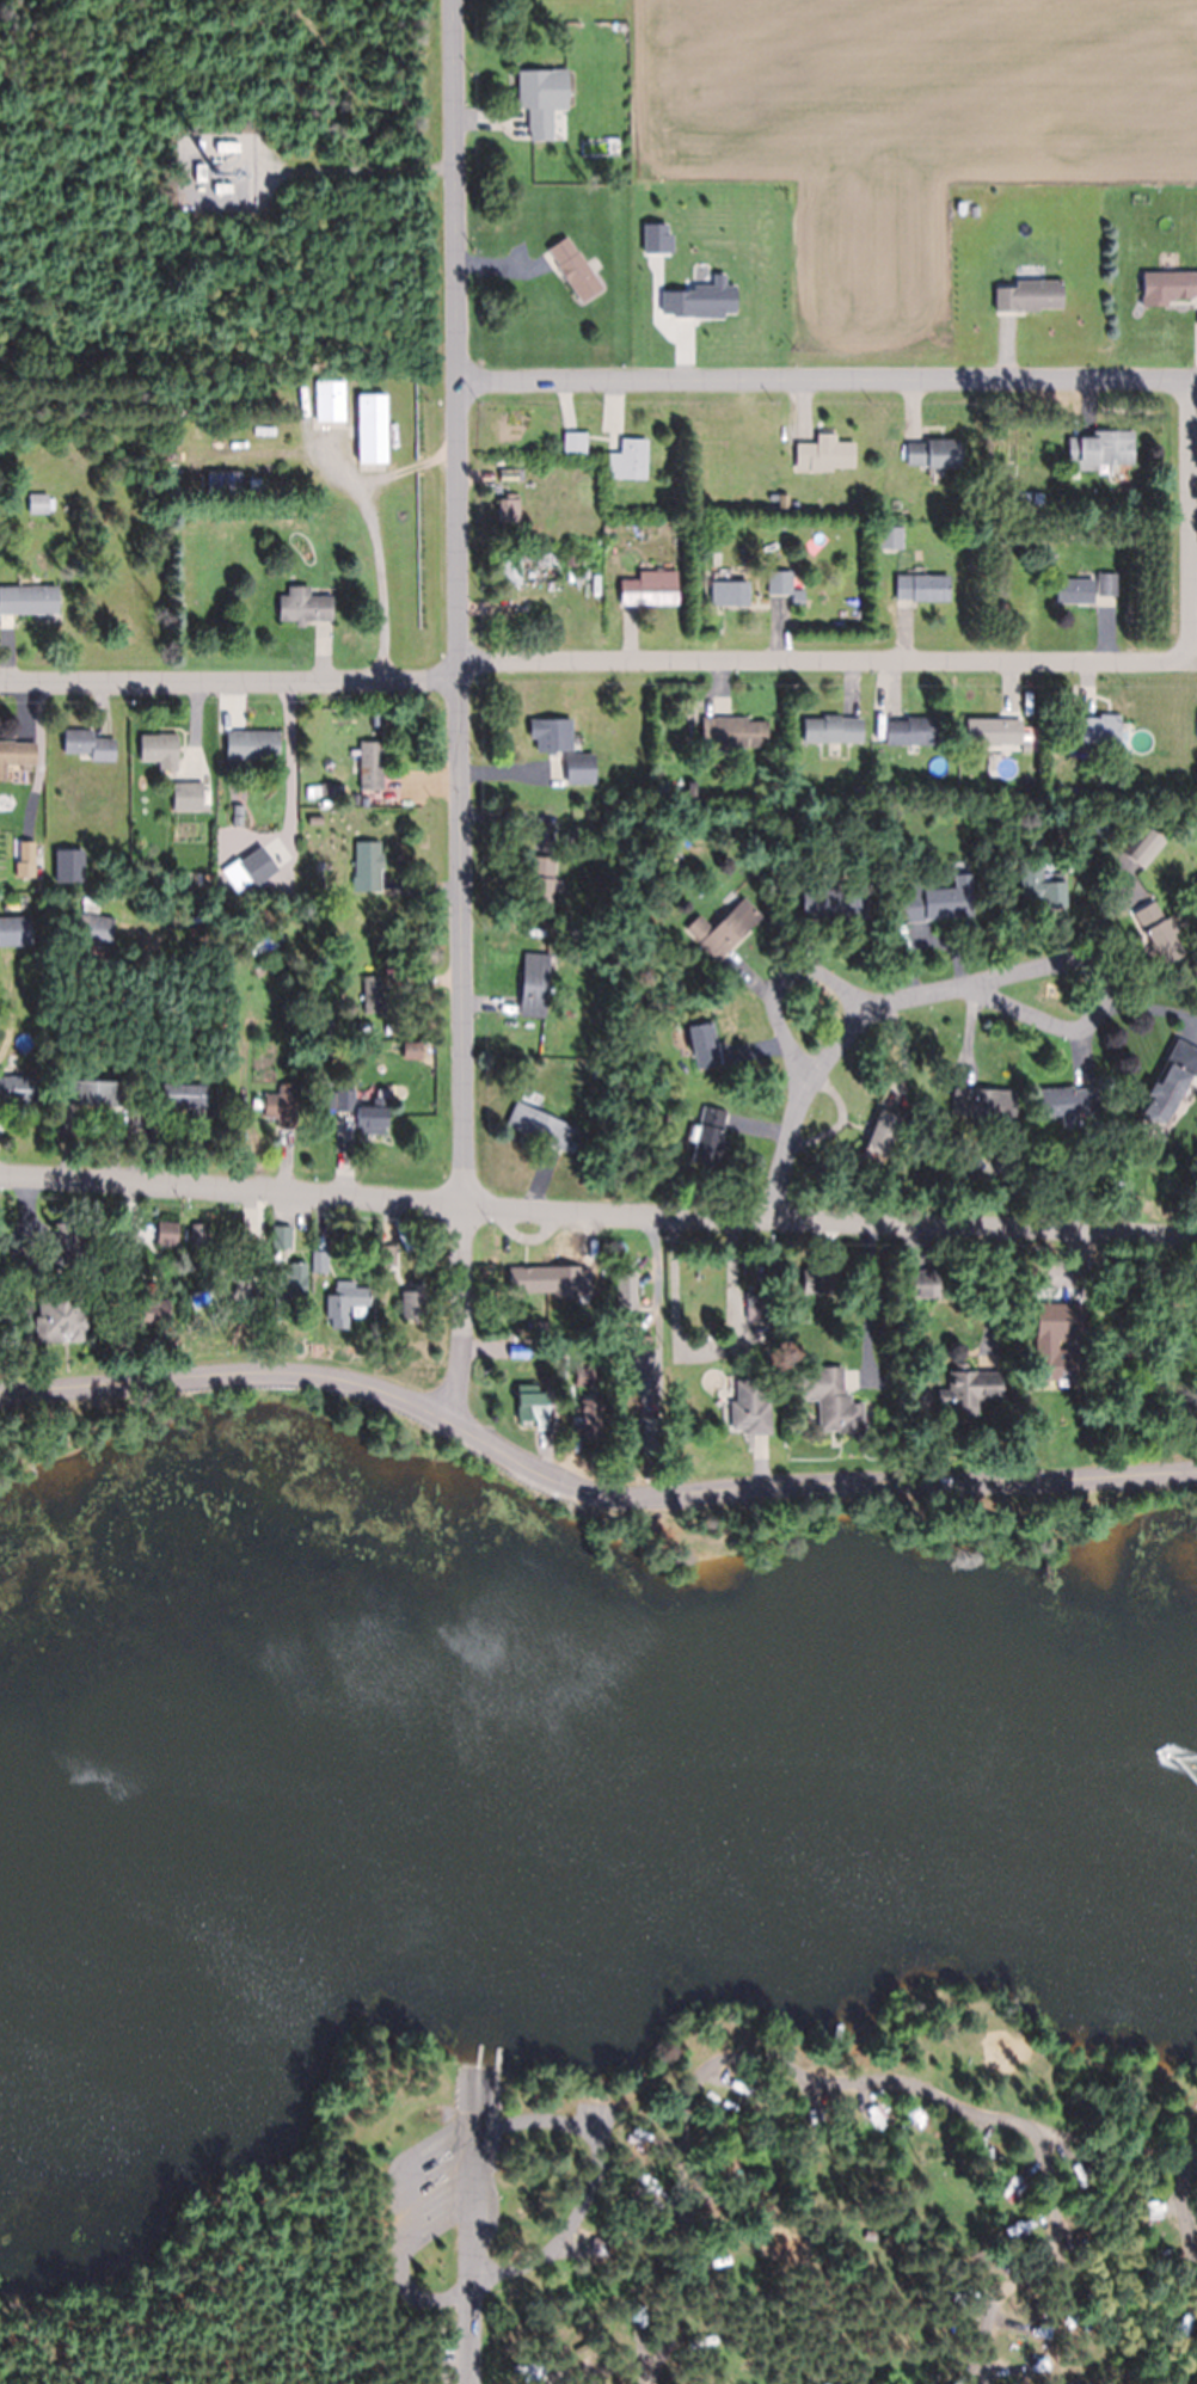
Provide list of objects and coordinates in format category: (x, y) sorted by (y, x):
building: (536, 103)
crop: (871, 155)
building: (199, 173)
building: (222, 189)
building: (575, 270)
building: (1170, 287)
building: (1031, 297)
road: (825, 381)
building: (331, 406)
building: (239, 420)
building: (373, 441)
building: (575, 442)
building: (265, 444)
building: (1103, 450)
building: (823, 453)
building: (934, 453)
building: (628, 459)
building: (505, 474)
building: (1024, 497)
building: (1035, 497)
building: (784, 499)
building: (39, 503)
building: (509, 506)
road: (1191, 522)
building: (890, 539)
building: (570, 558)
building: (589, 559)
building: (511, 566)
building: (780, 580)
building: (1106, 583)
building: (922, 586)
building: (650, 588)
building: (1074, 590)
building: (729, 592)
building: (798, 596)
building: (29, 598)
building: (305, 604)
road: (595, 671)
road: (460, 708)
building: (833, 727)
building: (915, 730)
building: (993, 730)
building: (1098, 730)
building: (733, 731)
building: (550, 735)
building: (81, 742)
building: (251, 744)
building: (159, 746)
building: (16, 754)
building: (370, 763)
building: (577, 767)
building: (62, 779)
building: (1056, 787)
building: (336, 788)
building: (690, 788)
building: (859, 789)
building: (188, 795)
building: (238, 810)
building: (317, 816)
building: (1144, 848)
building: (27, 852)
building: (367, 866)
building: (542, 884)
building: (1043, 889)
building: (834, 902)
building: (933, 902)
building: (2, 921)
building: (724, 928)
building: (94, 929)
building: (1159, 930)
building: (361, 939)
building: (92, 956)
road: (787, 976)
building: (533, 984)
building: (373, 994)
road: (970, 995)
building: (702, 1042)
building: (1171, 1081)
building: (18, 1088)
building: (93, 1092)
building: (178, 1093)
building: (345, 1099)
building: (984, 1101)
building: (1067, 1102)
building: (281, 1105)
building: (372, 1118)
building: (539, 1125)
building: (882, 1131)
building: (708, 1135)
building: (957, 1139)
building: (972, 1160)
building: (1118, 1187)
road: (597, 1211)
building: (168, 1231)
building: (198, 1235)
building: (283, 1236)
building: (68, 1243)
building: (387, 1254)
building: (257, 1260)
building: (320, 1261)
building: (110, 1267)
building: (528, 1277)
building: (589, 1278)
building: (290, 1283)
building: (821, 1284)
building: (922, 1285)
building: (243, 1292)
building: (867, 1292)
building: (625, 1295)
building: (345, 1302)
building: (412, 1302)
building: (757, 1305)
building: (836, 1305)
building: (1086, 1305)
building: (153, 1311)
building: (70, 1316)
building: (1075, 1319)
building: (220, 1321)
building: (765, 1326)
building: (910, 1335)
building: (642, 1346)
building: (516, 1350)
building: (1056, 1364)
building: (976, 1381)
building: (645, 1389)
building: (536, 1407)
building: (750, 1408)
building: (839, 1413)
building: (587, 1427)
building: (649, 1432)
road: (585, 1487)
river: (595, 1802)
park: (583, 1919)
road: (845, 2087)
parking lot: (603, 2124)
building: (647, 2142)
road: (1113, 2146)
road: (594, 2176)
parking lot: (443, 2187)
road: (1181, 2211)
road: (401, 2220)
road: (479, 2230)
building: (870, 2235)
park: (784, 2242)
building: (600, 2245)
road: (198, 2251)
building: (716, 2263)
building: (707, 2342)
building: (577, 2347)

